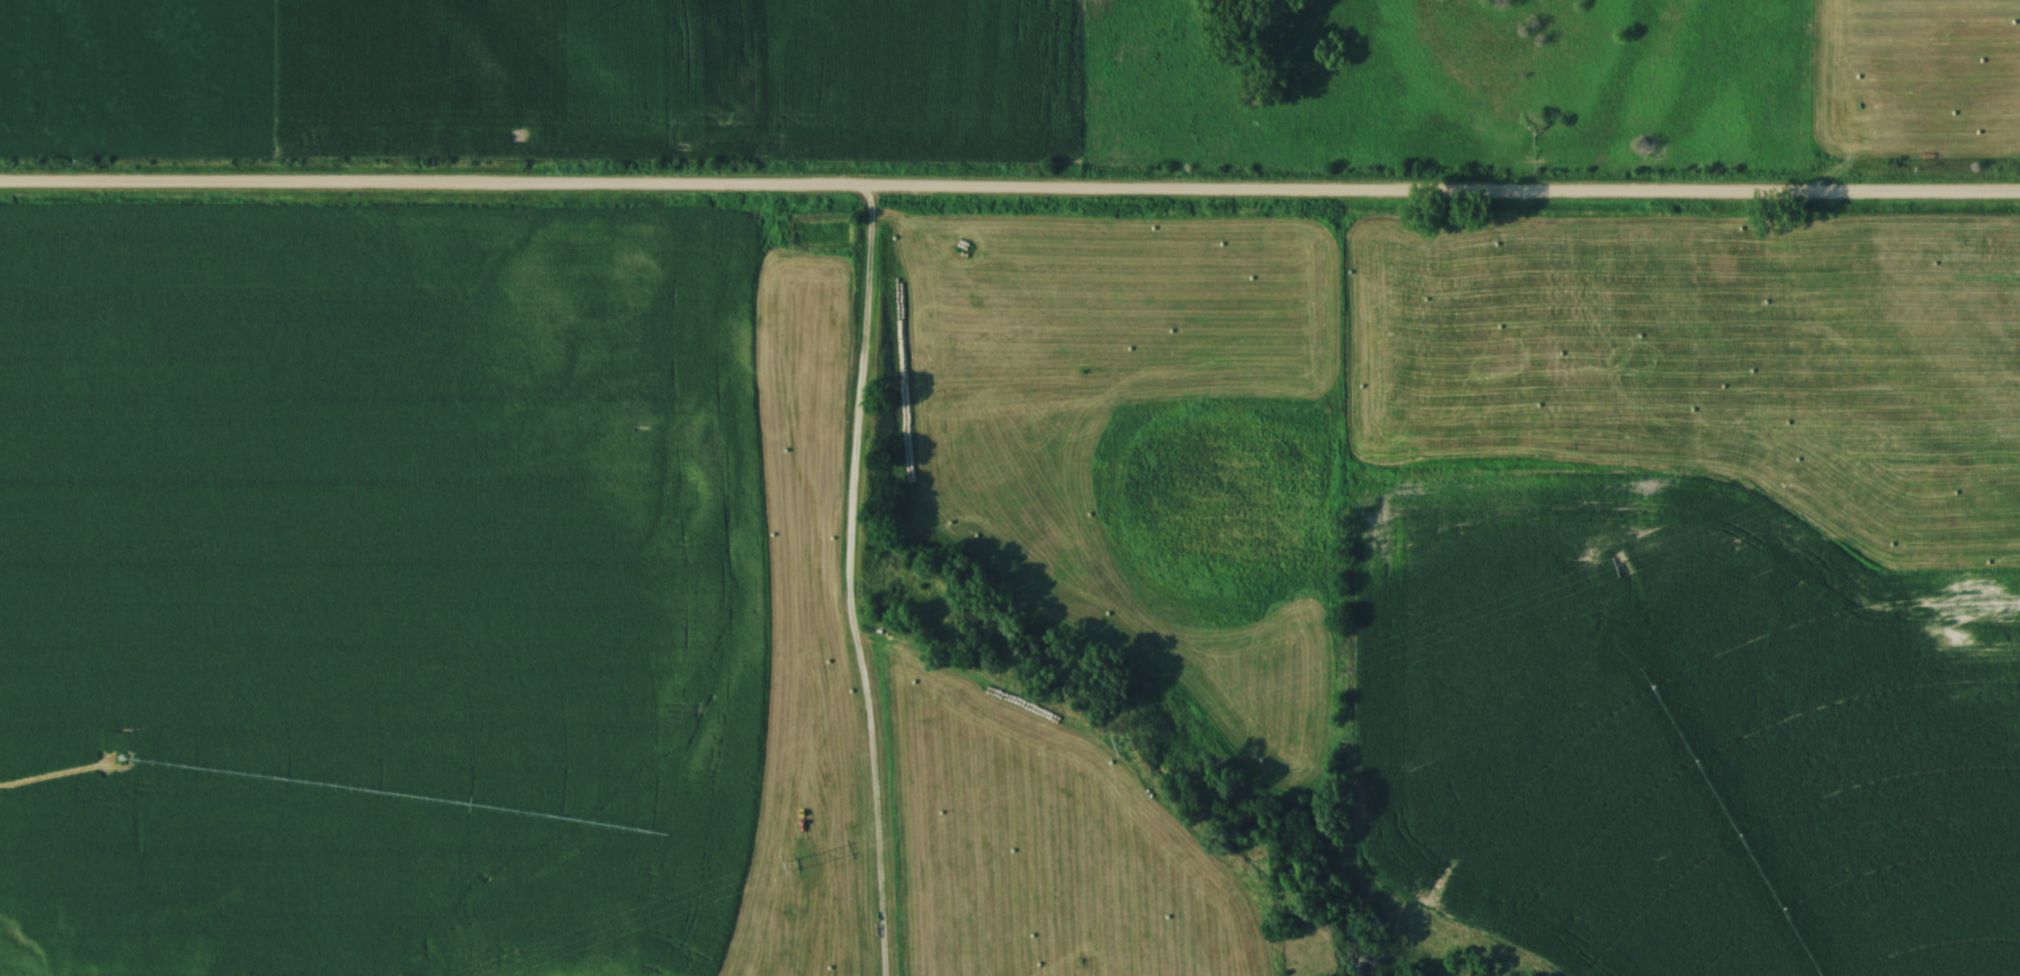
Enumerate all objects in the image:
road: (1009, 195)
power tower: (1618, 569)
road: (845, 585)
power tower: (1122, 747)
power tower: (799, 865)

